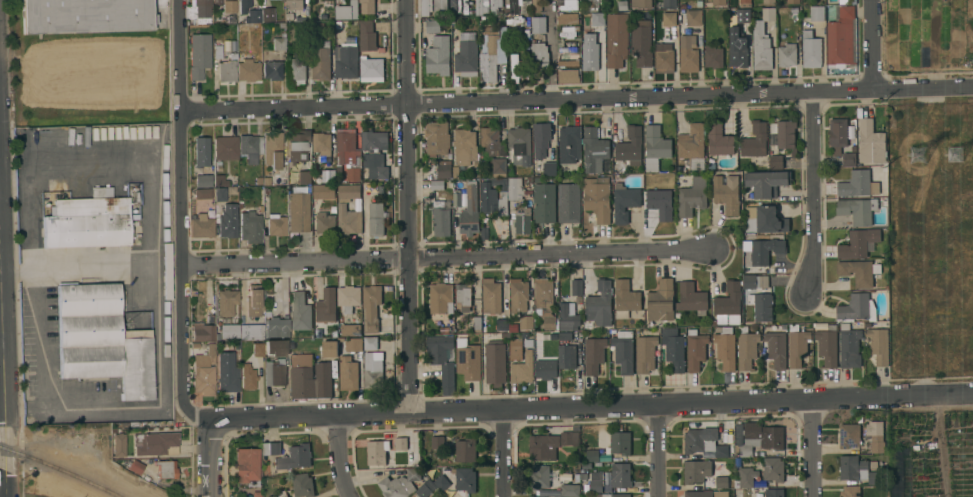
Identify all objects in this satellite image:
building: (745, 1)
building: (769, 1)
building: (216, 2)
building: (719, 2)
building: (793, 2)
building: (641, 3)
building: (296, 4)
building: (670, 4)
building: (569, 5)
building: (229, 6)
building: (244, 6)
building: (455, 6)
building: (481, 6)
building: (512, 6)
building: (536, 6)
building: (367, 7)
building: (426, 7)
building: (440, 7)
building: (496, 7)
building: (346, 9)
building: (200, 11)
building: (817, 13)
building: (267, 14)
building: (85, 15)
building: (252, 16)
building: (743, 16)
building: (692, 17)
building: (568, 19)
building: (669, 19)
building: (538, 25)
building: (592, 25)
building: (433, 26)
building: (569, 32)
building: (367, 35)
building: (840, 39)
building: (617, 40)
building: (763, 41)
building: (641, 42)
building: (279, 43)
building: (569, 46)
road: (872, 46)
building: (217, 49)
building: (737, 50)
building: (811, 50)
road: (551, 51)
building: (540, 54)
building: (688, 54)
building: (199, 55)
building: (787, 55)
building: (438, 56)
building: (465, 57)
building: (590, 57)
building: (713, 57)
building: (664, 58)
building: (320, 60)
building: (490, 60)
building: (568, 60)
building: (347, 64)
building: (516, 68)
building: (371, 69)
building: (248, 70)
building: (272, 70)
building: (227, 71)
building: (295, 72)
building: (569, 75)
road: (576, 101)
building: (784, 135)
building: (437, 138)
building: (490, 138)
building: (541, 139)
building: (719, 140)
building: (755, 140)
building: (844, 140)
building: (871, 142)
building: (322, 143)
building: (346, 144)
building: (570, 144)
building: (630, 144)
building: (298, 145)
building: (520, 145)
building: (692, 145)
building: (225, 147)
building: (250, 147)
building: (466, 147)
building: (655, 147)
building: (274, 148)
building: (594, 150)
building: (202, 152)
power tower: (959, 154)
building: (374, 155)
power tower: (928, 156)
building: (776, 160)
building: (500, 165)
building: (619, 166)
building: (550, 168)
building: (440, 169)
building: (353, 173)
building: (328, 176)
building: (304, 177)
building: (203, 180)
building: (766, 183)
building: (857, 184)
building: (515, 188)
building: (324, 191)
building: (97, 192)
building: (348, 192)
building: (203, 193)
building: (726, 193)
building: (219, 194)
building: (502, 194)
road: (813, 195)
building: (693, 196)
building: (488, 198)
building: (598, 198)
building: (545, 203)
building: (569, 203)
building: (625, 203)
building: (661, 203)
road: (409, 204)
building: (299, 209)
building: (859, 209)
building: (470, 211)
road: (181, 216)
building: (376, 219)
building: (441, 219)
building: (348, 220)
building: (770, 220)
building: (228, 221)
building: (523, 221)
building: (87, 222)
building: (325, 223)
building: (203, 224)
building: (276, 224)
building: (751, 225)
building: (250, 227)
building: (859, 243)
building: (765, 249)
road: (446, 257)
building: (167, 270)
building: (859, 272)
building: (755, 281)
building: (577, 287)
building: (545, 294)
building: (518, 295)
building: (491, 296)
building: (463, 297)
building: (691, 297)
building: (348, 298)
building: (441, 298)
building: (625, 298)
building: (253, 301)
building: (661, 301)
building: (226, 302)
building: (600, 304)
building: (729, 304)
building: (326, 306)
building: (371, 306)
building: (761, 306)
building: (857, 308)
building: (300, 311)
building: (568, 317)
building: (483, 322)
building: (526, 322)
building: (549, 322)
building: (477, 324)
building: (276, 327)
building: (350, 329)
building: (229, 331)
building: (251, 331)
building: (202, 332)
building: (102, 340)
road: (1, 343)
building: (370, 343)
building: (353, 344)
building: (828, 345)
building: (878, 345)
building: (776, 346)
building: (797, 346)
building: (276, 347)
building: (329, 348)
building: (725, 348)
building: (746, 348)
building: (850, 348)
building: (258, 349)
building: (515, 349)
road: (37, 350)
building: (695, 350)
building: (623, 351)
building: (674, 352)
building: (646, 353)
building: (594, 354)
building: (567, 356)
building: (467, 359)
building: (442, 360)
building: (495, 362)
road: (2, 363)
building: (523, 367)
building: (546, 369)
building: (372, 371)
building: (227, 372)
building: (348, 372)
building: (274, 374)
building: (203, 376)
building: (248, 376)
building: (311, 378)
road: (590, 404)
building: (849, 435)
building: (875, 436)
building: (760, 438)
building: (698, 439)
building: (437, 442)
building: (620, 442)
building: (155, 443)
building: (400, 443)
building: (119, 444)
building: (550, 444)
road: (940, 445)
road: (811, 447)
building: (270, 448)
building: (465, 449)
road: (657, 449)
building: (721, 451)
building: (863, 451)
building: (376, 452)
road: (503, 452)
road: (337, 455)
building: (592, 455)
road: (208, 456)
building: (294, 457)
road: (5, 458)
building: (247, 464)
building: (587, 466)
building: (136, 467)
building: (166, 468)
railway: (60, 469)
building: (773, 469)
building: (856, 469)
building: (696, 471)
building: (620, 475)
building: (584, 476)
building: (541, 477)
building: (747, 477)
building: (465, 479)
building: (595, 482)
building: (721, 482)
building: (441, 483)
building: (400, 484)
building: (302, 485)
building: (586, 488)
building: (607, 489)
building: (422, 490)
building: (569, 490)
building: (852, 491)
building: (774, 492)
building: (280, 494)
building: (705, 494)
building: (611, 495)
building: (287, 496)

